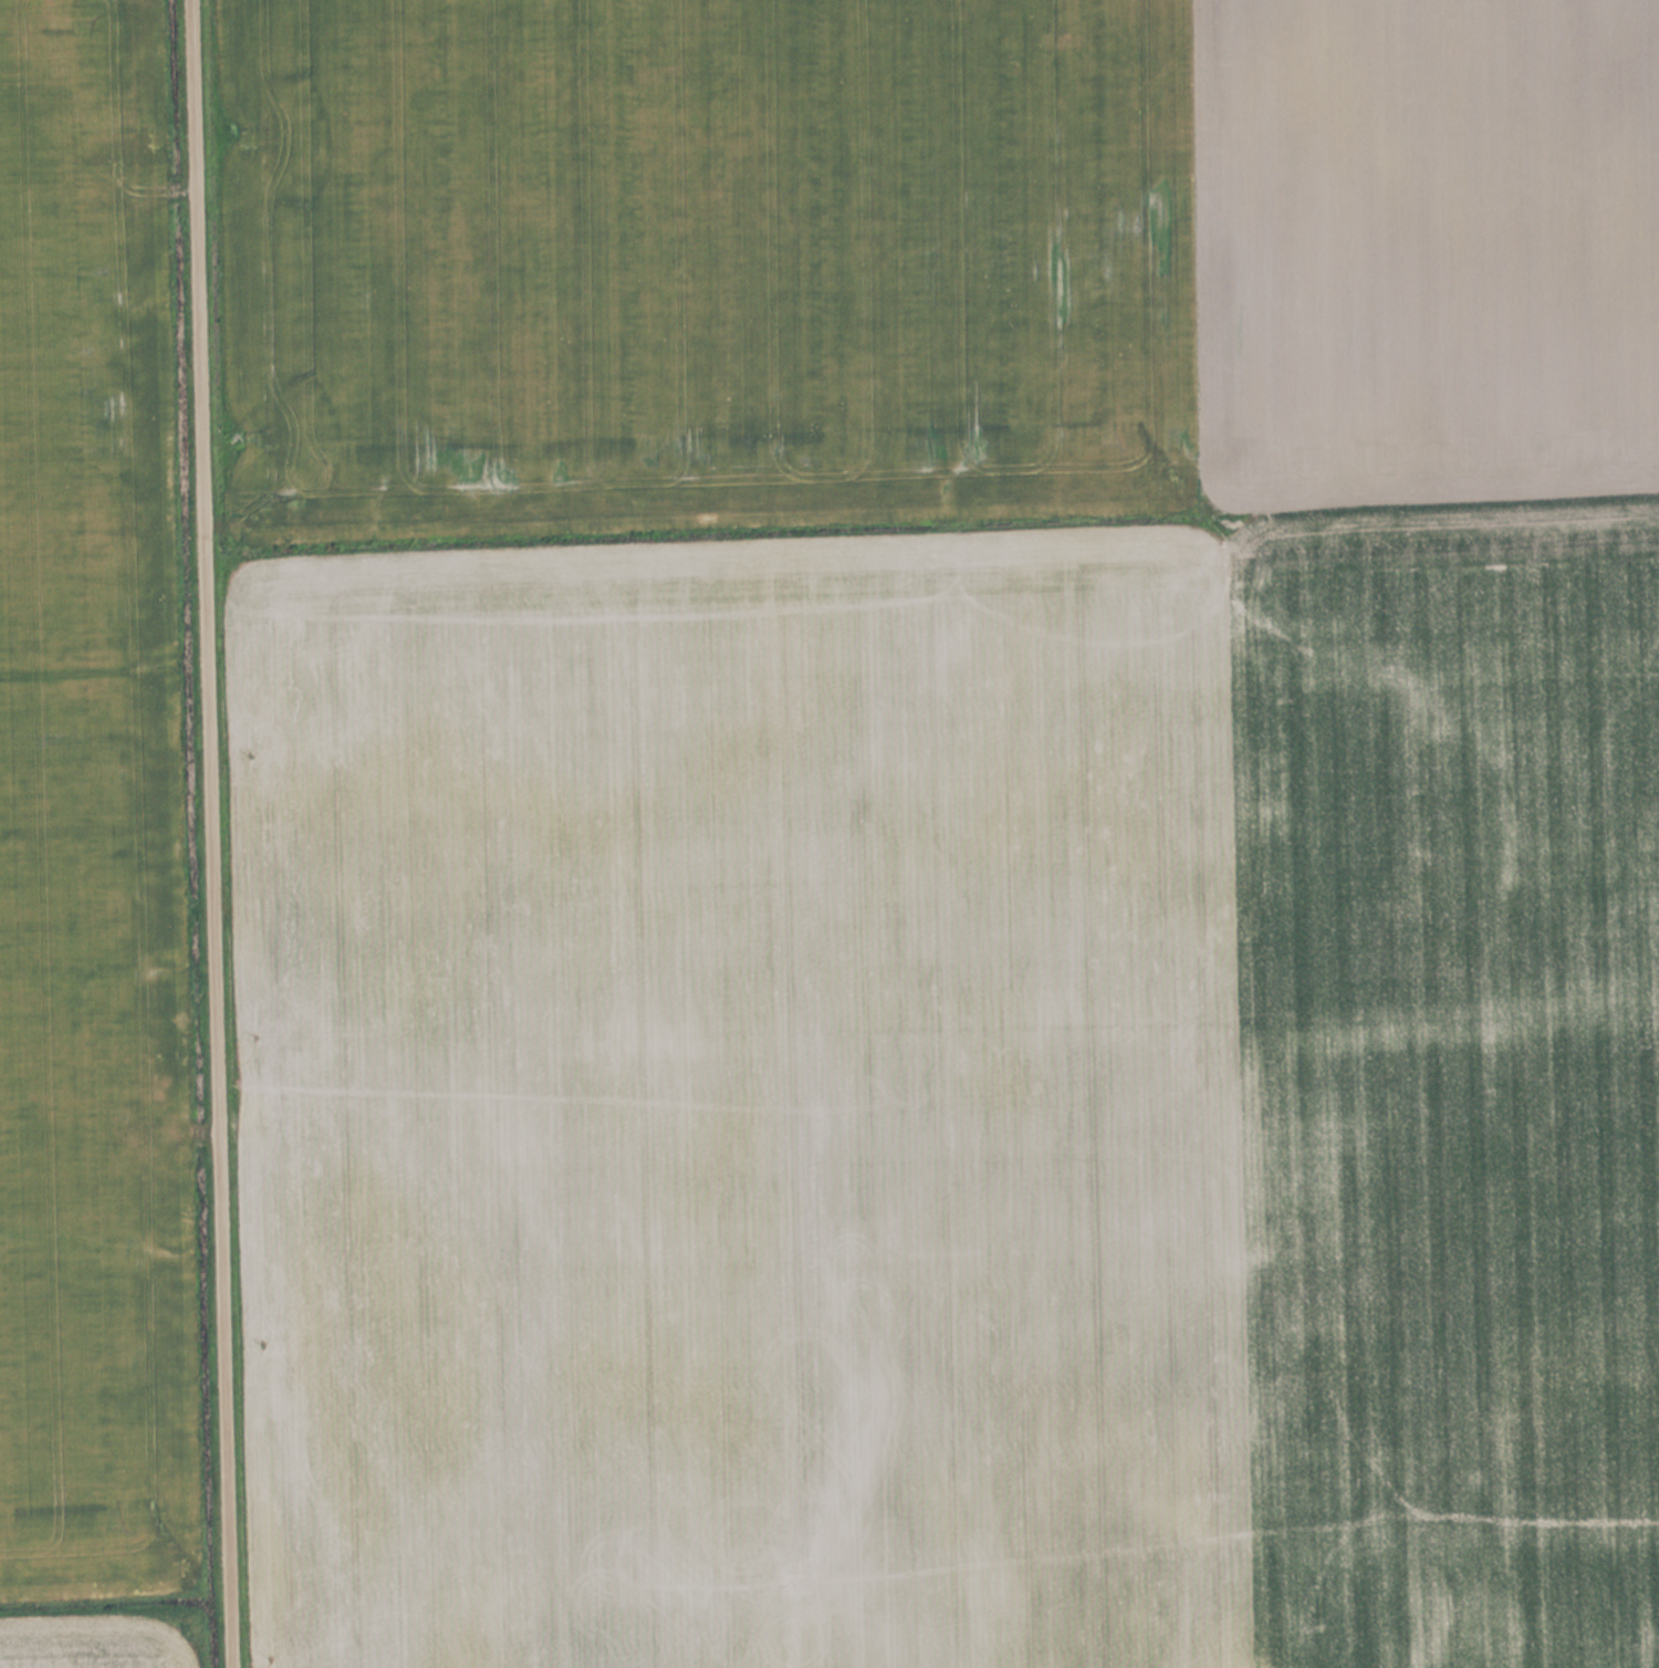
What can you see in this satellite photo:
road: (206, 834)

